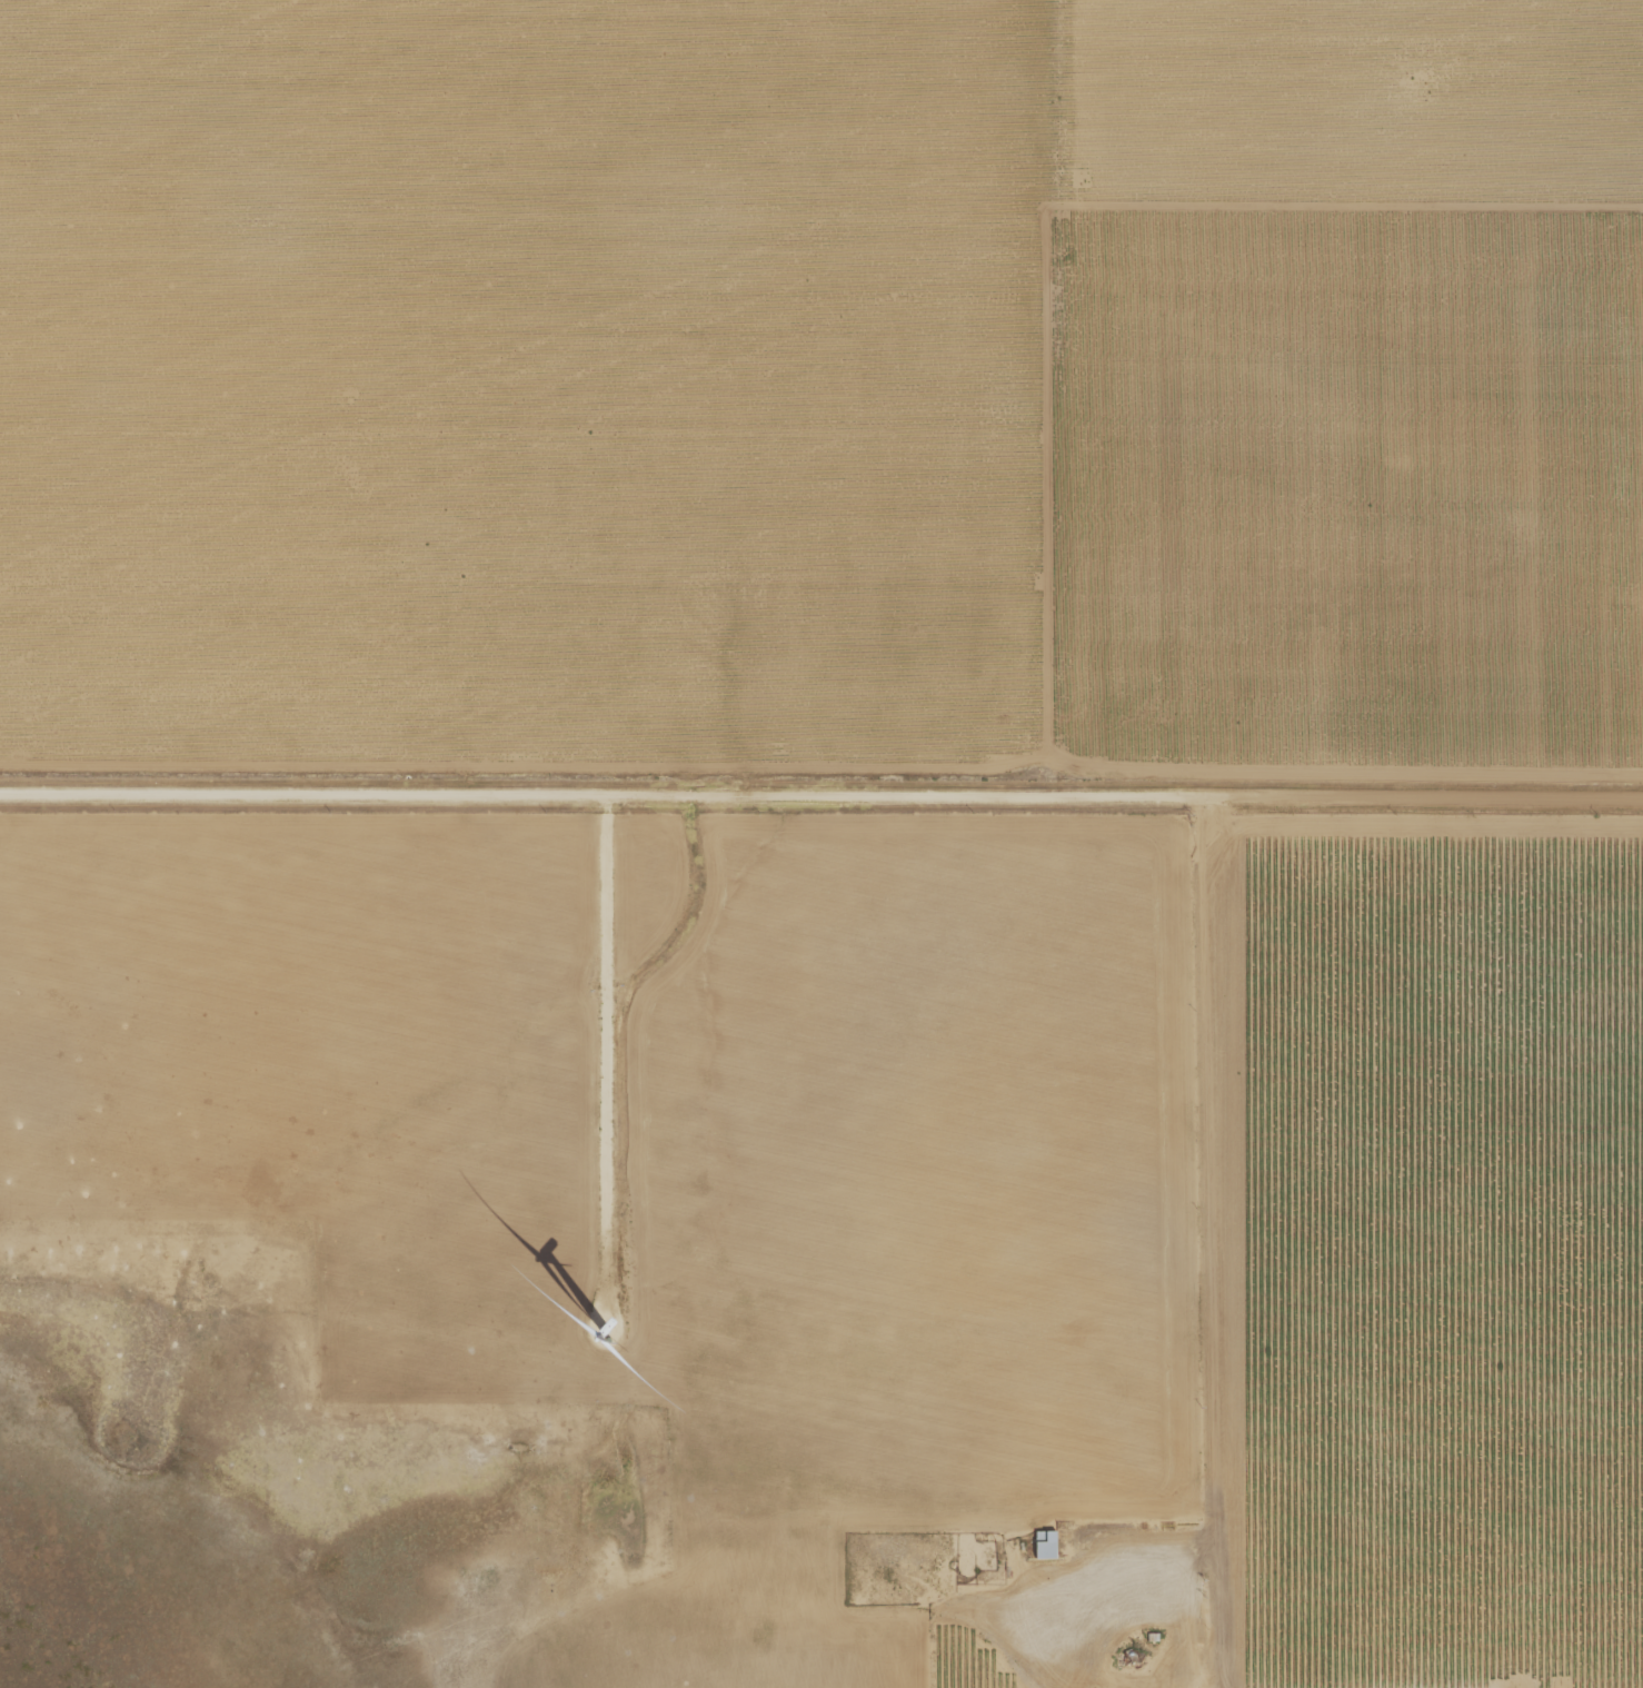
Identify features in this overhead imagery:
road: (821, 798)
road: (1201, 1244)
wind turbine: (609, 1334)
building: (1037, 1545)

